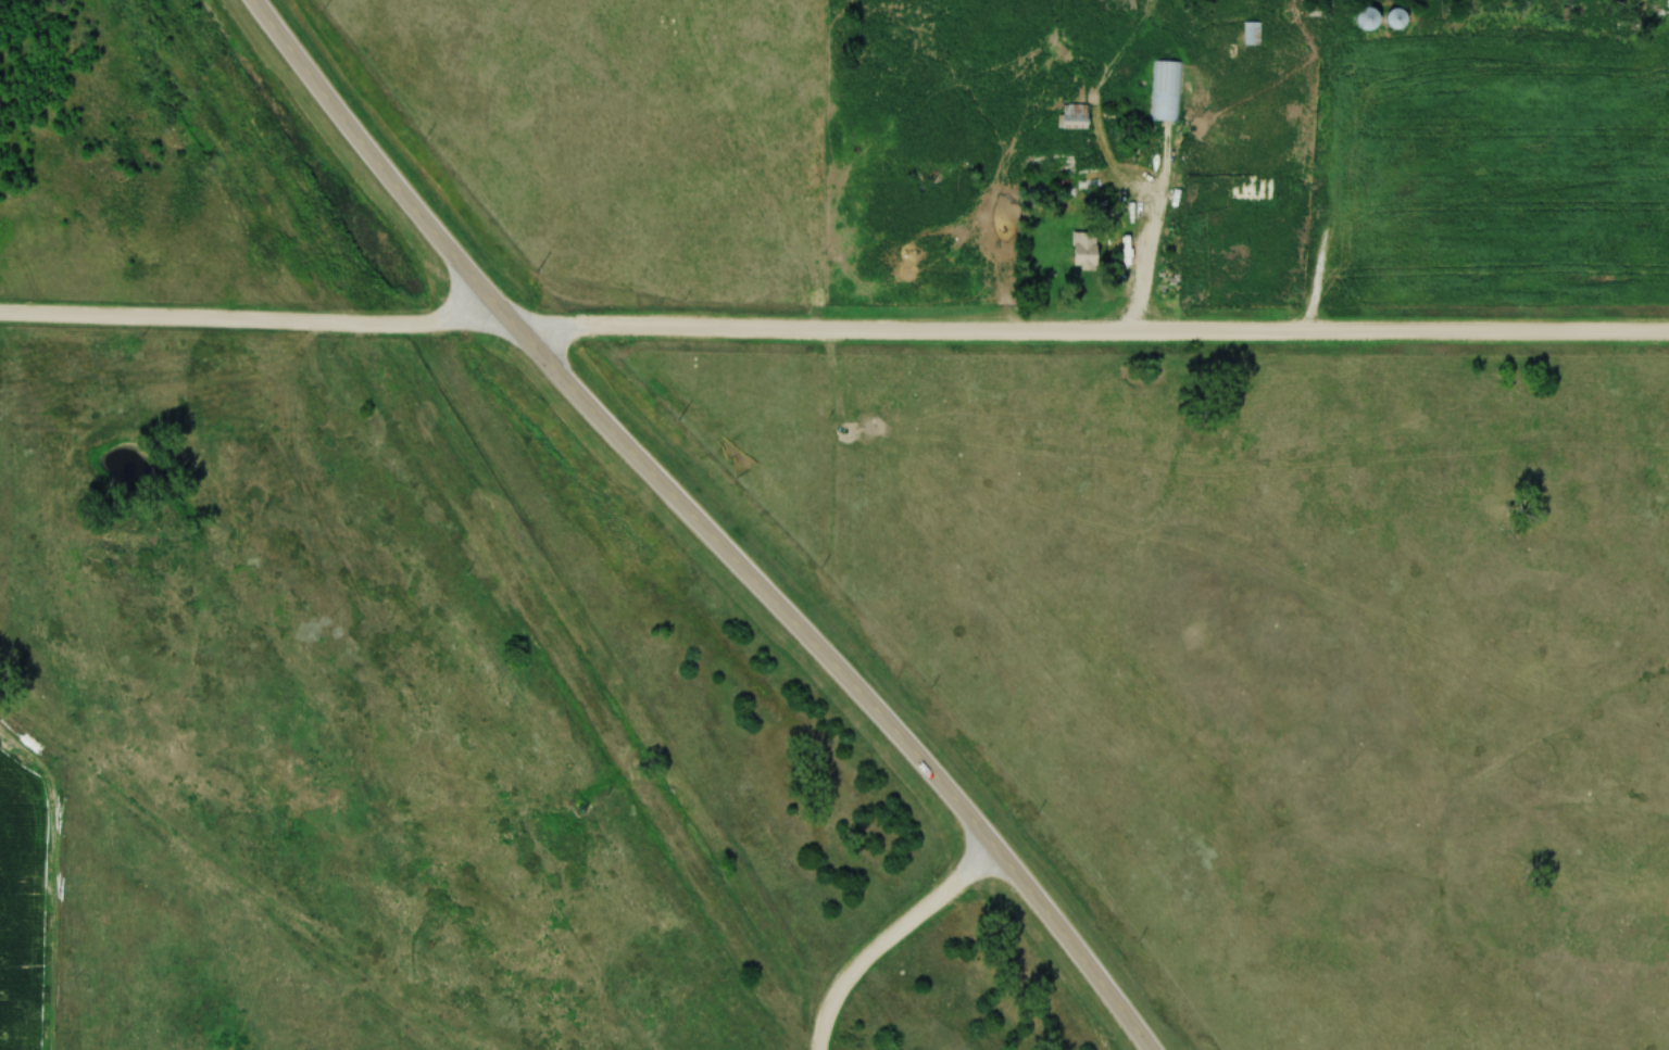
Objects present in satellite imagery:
building: (1366, 20)
building: (1394, 20)
building: (1248, 34)
building: (1160, 91)
building: (1071, 117)
road: (1152, 242)
building: (1081, 251)
road: (256, 324)
road: (1091, 333)
road: (700, 526)
road: (893, 940)

